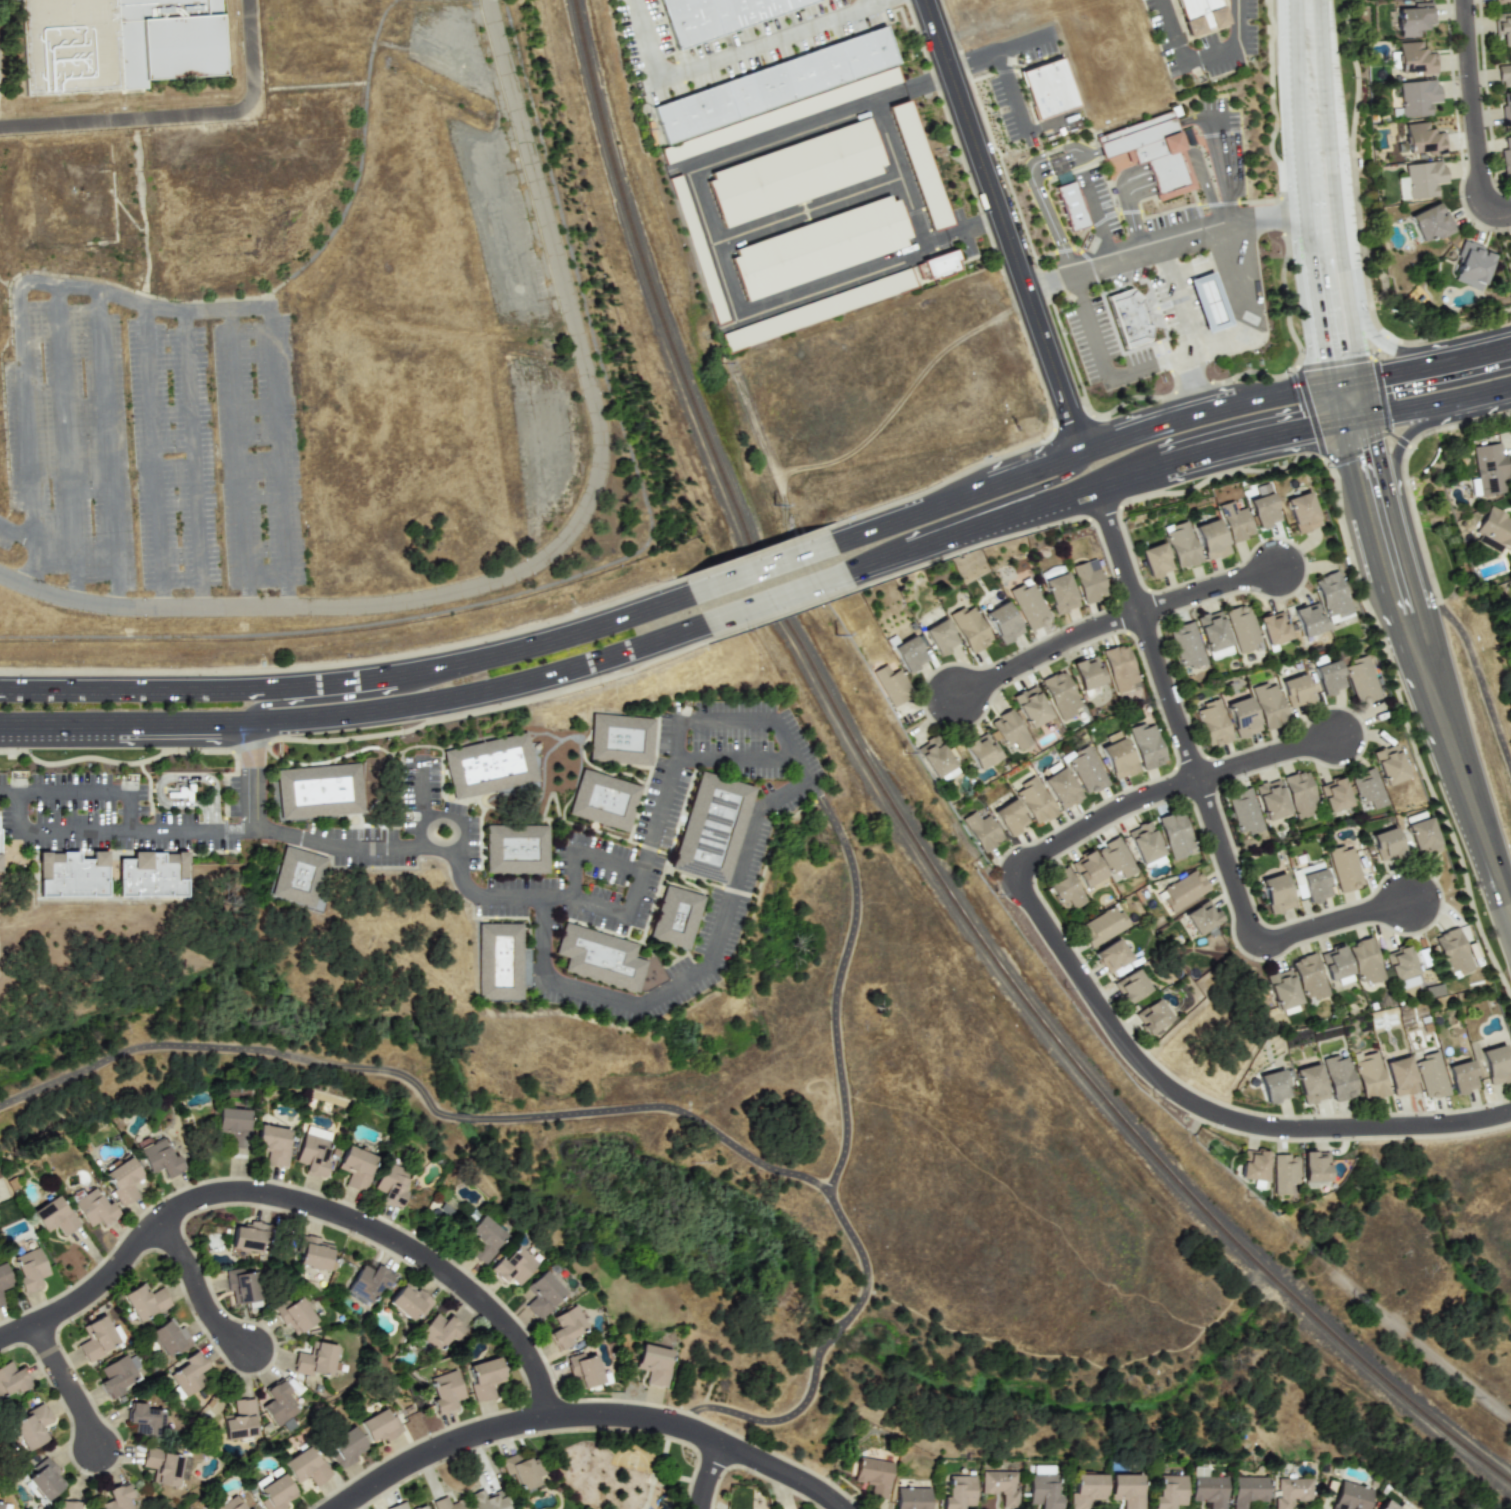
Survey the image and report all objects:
building: (1501, 1)
road: (873, 6)
building: (720, 15)
building: (1202, 17)
building: (1414, 19)
building: (1503, 28)
road: (1024, 42)
building: (118, 44)
road: (1310, 50)
building: (1415, 58)
road: (1201, 59)
road: (721, 64)
building: (1505, 72)
street lamp: (1458, 76)
street lamp: (1350, 77)
building: (774, 84)
road: (1010, 85)
building: (1047, 87)
road: (913, 88)
building: (1417, 97)
street lamp: (982, 103)
building: (1506, 107)
road: (176, 113)
road: (1475, 115)
building: (783, 118)
building: (1422, 139)
road: (1122, 141)
road: (1303, 150)
building: (1152, 152)
street lamp: (1279, 154)
building: (1506, 158)
building: (922, 168)
road: (1159, 171)
road: (900, 174)
building: (799, 176)
building: (1423, 179)
park: (247, 181)
road: (1213, 195)
street lamp: (1461, 197)
road: (140, 202)
building: (1070, 206)
road: (811, 213)
street lamp: (981, 214)
road: (1097, 219)
road: (1131, 221)
building: (1431, 223)
road: (1005, 225)
road: (964, 232)
street lamp: (1510, 233)
road: (1364, 234)
road: (1504, 238)
road: (718, 246)
road: (1166, 249)
building: (822, 250)
building: (702, 252)
road: (1342, 259)
building: (1470, 265)
building: (946, 272)
building: (929, 279)
road: (1313, 293)
road: (1180, 300)
building: (1208, 302)
road: (20, 308)
building: (820, 314)
road: (1257, 319)
building: (1131, 322)
road: (1371, 326)
road: (1091, 329)
street lamp: (1063, 333)
street lamp: (1369, 353)
traffic signals: (1324, 355)
road: (1423, 365)
road: (1145, 369)
street lamp: (1285, 371)
traffic signals: (1387, 373)
road: (1192, 384)
road: (1343, 402)
traffic signals: (1307, 429)
street lamp: (1384, 429)
road: (67, 444)
road: (108, 448)
road: (1079, 452)
road: (154, 456)
road: (279, 456)
traffic signals: (1358, 457)
road: (239, 458)
road: (194, 459)
road: (1173, 462)
street lamp: (1328, 466)
building: (1488, 469)
road: (1400, 500)
road: (988, 503)
building: (1264, 510)
building: (1302, 512)
road: (1371, 520)
building: (1235, 521)
building: (1495, 528)
road: (17, 536)
building: (1211, 539)
building: (1182, 544)
road: (560, 550)
road: (756, 560)
building: (1156, 560)
building: (1089, 582)
road: (1210, 589)
building: (1060, 593)
building: (1332, 596)
road: (774, 600)
building: (1029, 604)
building: (1308, 619)
building: (1003, 622)
building: (970, 628)
building: (1242, 628)
building: (1273, 628)
road: (1148, 633)
building: (1213, 635)
building: (941, 636)
building: (1186, 645)
building: (910, 652)
road: (1048, 652)
road: (1476, 664)
building: (1120, 668)
building: (1087, 672)
road: (348, 675)
building: (1329, 677)
building: (1362, 679)
building: (892, 684)
street lamp: (1390, 690)
building: (1296, 691)
building: (1060, 694)
road: (331, 695)
road: (482, 700)
building: (1269, 705)
building: (1030, 706)
building: (1242, 717)
building: (1213, 722)
building: (1009, 729)
road: (126, 736)
building: (624, 743)
building: (1147, 745)
building: (981, 751)
road: (1269, 756)
building: (1118, 757)
building: (936, 758)
road: (737, 764)
building: (1389, 764)
building: (494, 769)
road: (1458, 769)
building: (1087, 770)
road: (252, 779)
building: (1061, 788)
building: (1368, 788)
road: (425, 792)
road: (92, 794)
building: (1300, 794)
building: (322, 795)
building: (1335, 795)
building: (1271, 799)
building: (1035, 800)
building: (606, 805)
building: (1244, 811)
road: (443, 815)
building: (1010, 817)
railway: (905, 828)
road: (108, 830)
building: (981, 830)
building: (712, 831)
building: (1175, 834)
building: (1422, 836)
building: (0, 843)
building: (1144, 843)
building: (1386, 843)
building: (518, 853)
building: (1115, 859)
road: (589, 860)
road: (981, 862)
building: (1344, 868)
building: (1087, 869)
street lamp: (1461, 876)
building: (69, 877)
building: (149, 878)
building: (300, 881)
building: (1315, 882)
building: (1064, 887)
building: (1183, 890)
building: (1276, 893)
building: (1201, 917)
building: (677, 922)
building: (1102, 926)
road: (723, 928)
road: (1256, 935)
building: (1452, 952)
building: (1111, 956)
building: (602, 959)
building: (1365, 961)
building: (1400, 963)
building: (504, 965)
building: (1335, 965)
building: (1308, 976)
road: (835, 984)
building: (1130, 986)
building: (1281, 991)
road: (1206, 1009)
building: (1152, 1016)
road: (1127, 1046)
road: (232, 1048)
building: (1496, 1064)
building: (1369, 1075)
building: (1430, 1075)
building: (1400, 1076)
building: (1461, 1076)
building: (1339, 1077)
building: (1310, 1084)
building: (1274, 1086)
road: (463, 1118)
building: (233, 1124)
road: (728, 1141)
building: (273, 1143)
building: (313, 1151)
building: (160, 1158)
building: (1254, 1165)
building: (1315, 1166)
building: (356, 1167)
road: (1220, 1167)
building: (1284, 1173)
building: (123, 1180)
building: (392, 1184)
road: (296, 1202)
building: (95, 1209)
building: (53, 1216)
building: (247, 1237)
building: (484, 1238)
building: (315, 1253)
building: (513, 1265)
building: (30, 1269)
building: (4, 1277)
building: (367, 1283)
building: (241, 1285)
road: (199, 1293)
building: (542, 1294)
building: (1, 1300)
building: (145, 1301)
building: (408, 1302)
building: (294, 1315)
building: (567, 1326)
building: (439, 1331)
road: (832, 1336)
building: (97, 1338)
building: (169, 1339)
road: (1421, 1346)
building: (315, 1360)
building: (654, 1364)
building: (584, 1370)
building: (187, 1375)
building: (116, 1376)
building: (484, 1378)
building: (12, 1379)
road: (68, 1387)
road: (708, 1389)
building: (444, 1391)
park: (742, 1400)
building: (278, 1403)
road: (587, 1414)
building: (145, 1419)
building: (240, 1420)
road: (772, 1421)
building: (32, 1426)
building: (378, 1426)
building: (345, 1447)
building: (162, 1466)
building: (305, 1466)
park: (620, 1469)
building: (1038, 1469)
building: (522, 1470)
building: (872, 1475)
road: (706, 1476)
building: (46, 1479)
building: (998, 1486)
building: (1085, 1489)
building: (1125, 1490)
building: (1248, 1490)
building: (1041, 1491)
building: (1169, 1491)
building: (1208, 1491)
building: (1292, 1491)
building: (957, 1492)
building: (276, 1493)
building: (909, 1496)
building: (1351, 1496)
building: (117, 1497)
building: (487, 1500)
building: (70, 1504)
building: (230, 1504)
building: (448, 1504)
building: (1386, 1505)
building: (4, 1506)
building: (397, 1506)
building: (420, 1507)
building: (249, 1508)

